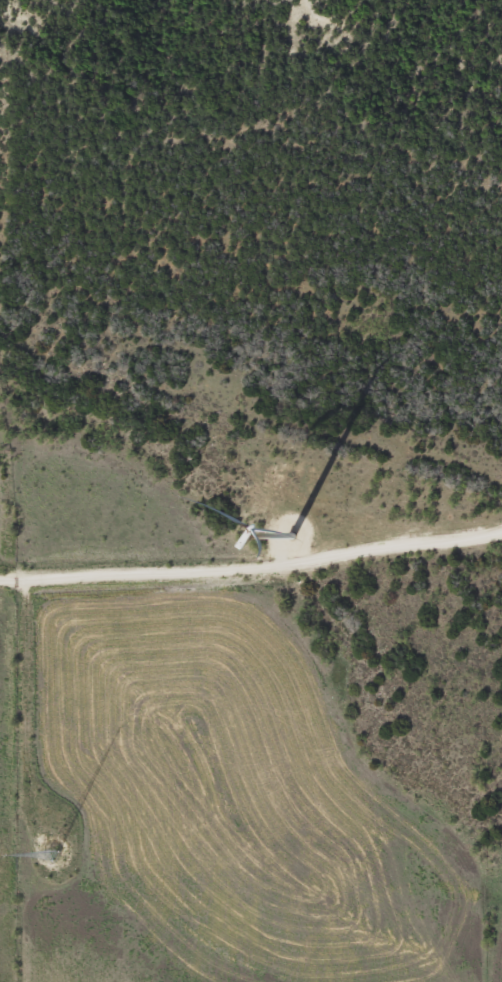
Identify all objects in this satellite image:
wind turbine: (274, 531)
road: (252, 569)

